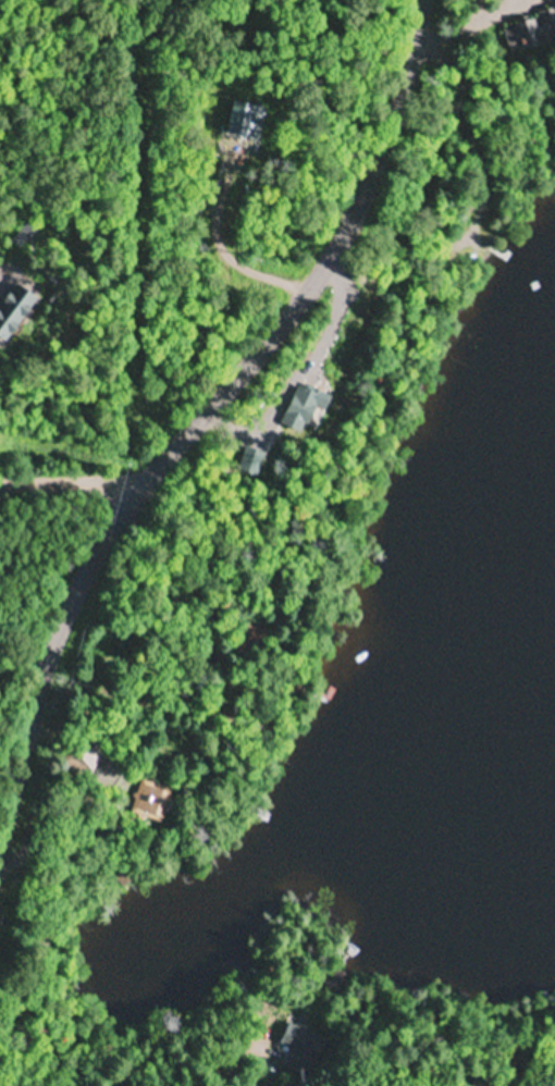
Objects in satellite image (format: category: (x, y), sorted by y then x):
road: (200, 411)
road: (72, 476)
road: (26, 649)
road: (261, 1062)

